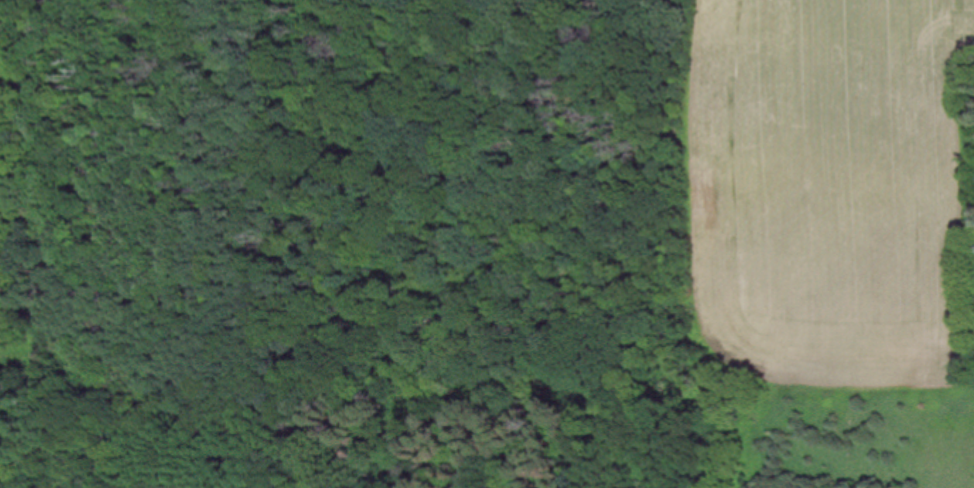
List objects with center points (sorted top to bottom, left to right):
park: (157, 197)

